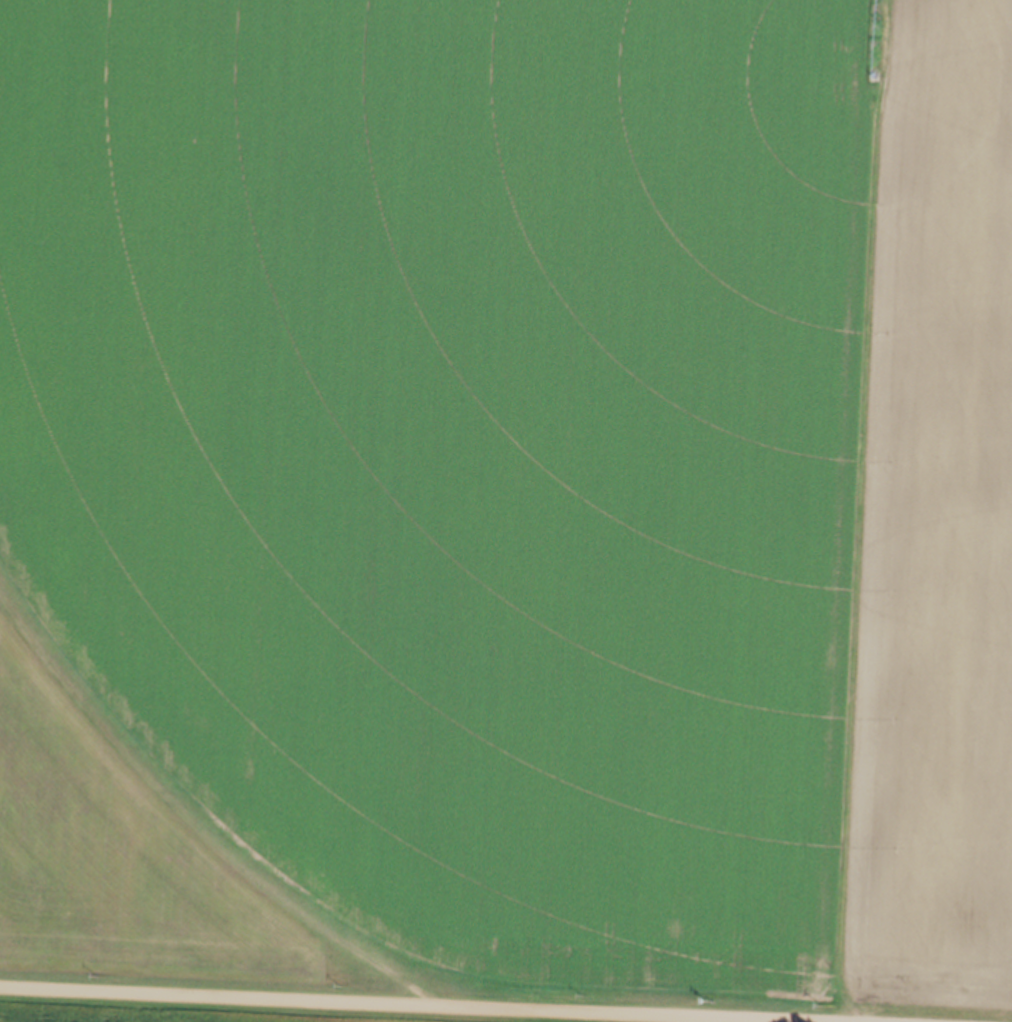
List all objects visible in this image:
road: (428, 1003)
crop: (199, 1013)

